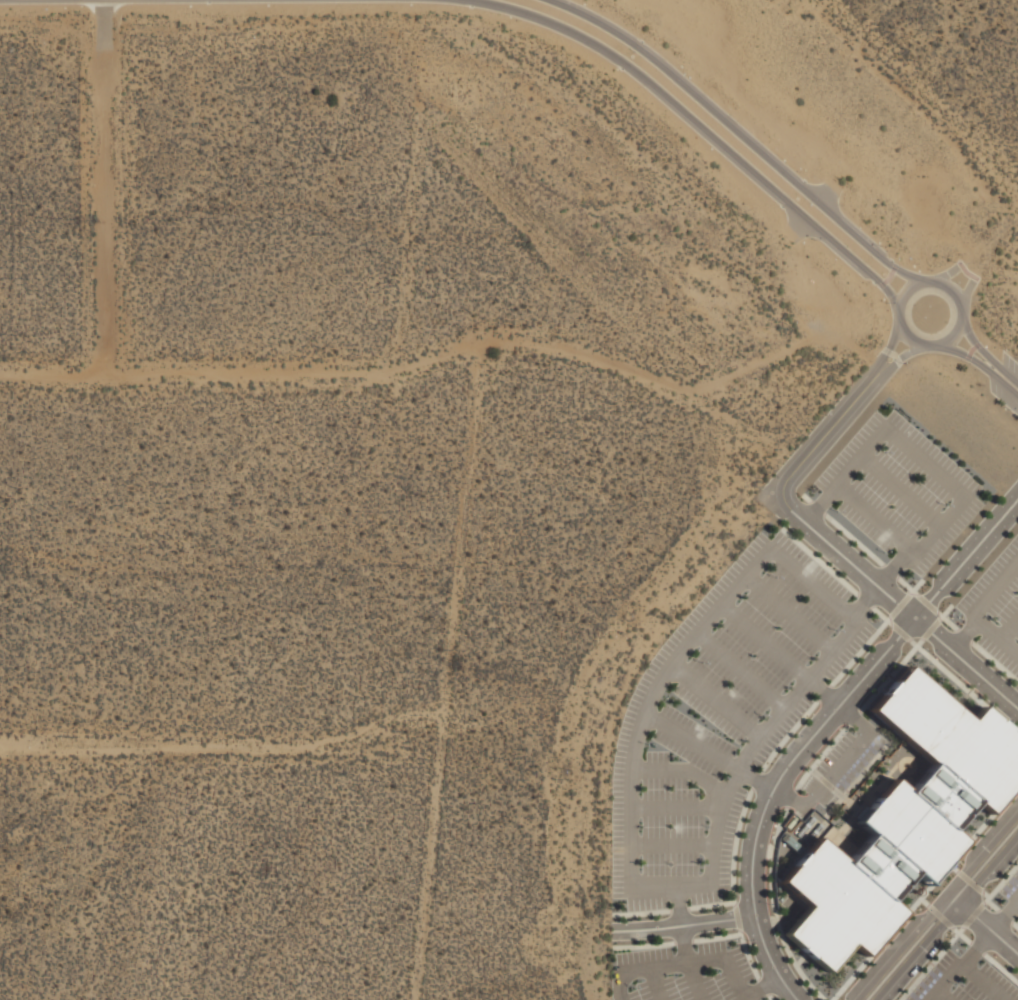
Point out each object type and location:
road: (681, 110)
road: (737, 131)
road: (960, 263)
road: (893, 266)
road: (966, 271)
road: (947, 272)
road: (889, 275)
road: (975, 276)
road: (882, 282)
road: (967, 292)
road: (900, 323)
road: (976, 344)
road: (977, 344)
road: (887, 347)
road: (971, 348)
road: (886, 350)
road: (893, 354)
road: (967, 355)
road: (969, 356)
road: (897, 360)
road: (898, 360)
road: (1009, 380)
parking lot: (1005, 382)
road: (860, 457)
road: (925, 461)
road: (900, 489)
parking lot: (899, 490)
road: (807, 498)
road: (820, 505)
road: (817, 507)
road: (873, 519)
road: (937, 522)
road: (853, 539)
road: (842, 554)
road: (819, 561)
road: (893, 567)
road: (889, 570)
road: (811, 581)
road: (906, 585)
road: (915, 586)
road: (997, 589)
road: (864, 599)
road: (864, 600)
road: (926, 602)
road: (899, 604)
parking lot: (996, 607)
road: (944, 611)
road: (789, 612)
road: (881, 615)
road: (946, 620)
road: (930, 628)
road: (1009, 628)
road: (900, 631)
road: (963, 633)
road: (963, 635)
road: (996, 635)
road: (764, 641)
road: (859, 650)
road: (994, 661)
road: (737, 669)
road: (890, 674)
road: (963, 685)
road: (824, 690)
road: (824, 692)
road: (651, 696)
road: (714, 698)
road: (853, 716)
road: (855, 716)
road: (819, 727)
road: (787, 734)
road: (758, 737)
road: (690, 741)
road: (820, 756)
parking lot: (716, 761)
road: (681, 768)
road: (836, 768)
road: (815, 773)
road: (755, 778)
road: (756, 779)
road: (856, 779)
road: (826, 782)
road: (787, 797)
road: (790, 798)
road: (844, 798)
road: (675, 805)
building: (902, 820)
road: (779, 824)
road: (733, 844)
road: (671, 845)
road: (773, 851)
road: (953, 867)
road: (969, 880)
road: (1000, 882)
road: (669, 885)
road: (771, 886)
parking lot: (1012, 888)
road: (924, 891)
road: (985, 893)
road: (924, 901)
road: (710, 904)
road: (992, 904)
road: (678, 905)
road: (679, 908)
road: (941, 911)
road: (641, 912)
road: (939, 914)
road: (973, 914)
road: (1004, 915)
road: (736, 916)
road: (1004, 916)
road: (777, 918)
road: (1014, 923)
road: (986, 924)
parking lot: (1017, 924)
road: (683, 925)
road: (961, 934)
road: (716, 936)
road: (683, 940)
road: (684, 942)
road: (643, 946)
road: (977, 947)
road: (977, 947)
road: (747, 953)
road: (672, 962)
road: (931, 962)
road: (795, 964)
road: (1000, 967)
parking lot: (962, 976)
road: (733, 978)
road: (694, 980)
road: (945, 982)
road: (982, 982)
road: (657, 983)
road: (619, 985)
road: (763, 985)
road: (762, 986)
road: (943, 995)
road: (770, 996)

